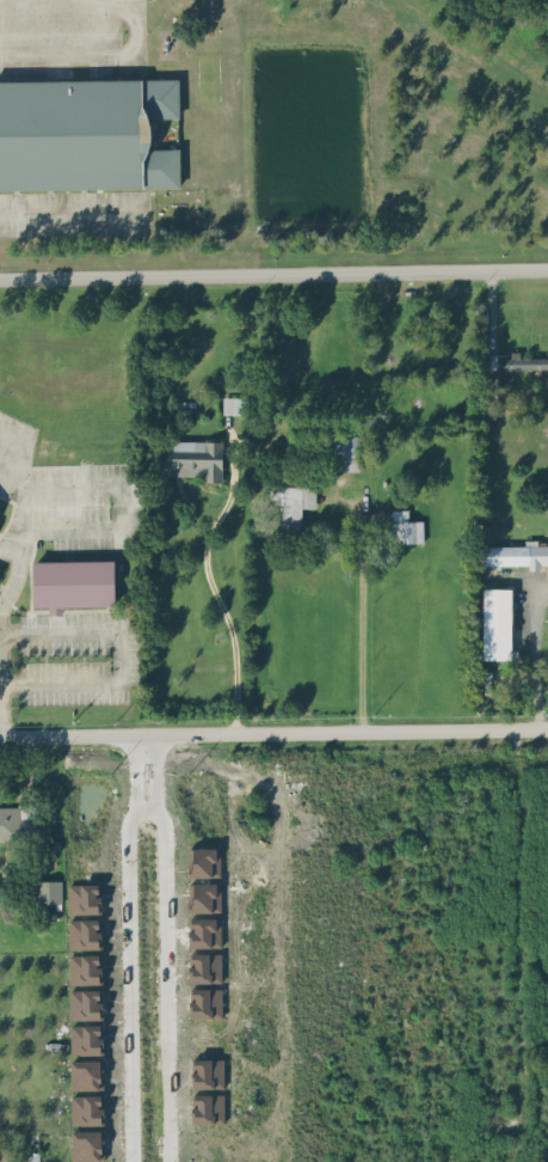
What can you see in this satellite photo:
road: (134, 31)
building: (85, 133)
road: (74, 214)
road: (273, 271)
building: (522, 361)
building: (233, 404)
building: (344, 452)
building: (193, 458)
road: (70, 487)
building: (291, 501)
building: (406, 527)
building: (516, 554)
building: (74, 583)
road: (211, 594)
road: (362, 613)
building: (497, 623)
road: (117, 656)
road: (535, 659)
road: (273, 730)
road: (137, 741)
road: (137, 750)
road: (138, 808)
building: (13, 822)
building: (48, 889)
building: (205, 897)
building: (85, 898)
building: (204, 931)
building: (85, 932)
road: (528, 944)
building: (86, 968)
road: (121, 984)
road: (159, 984)
building: (86, 1003)
building: (86, 1039)
building: (208, 1072)
building: (87, 1074)
building: (87, 1108)
building: (208, 1108)
building: (189, 1131)
building: (87, 1144)

